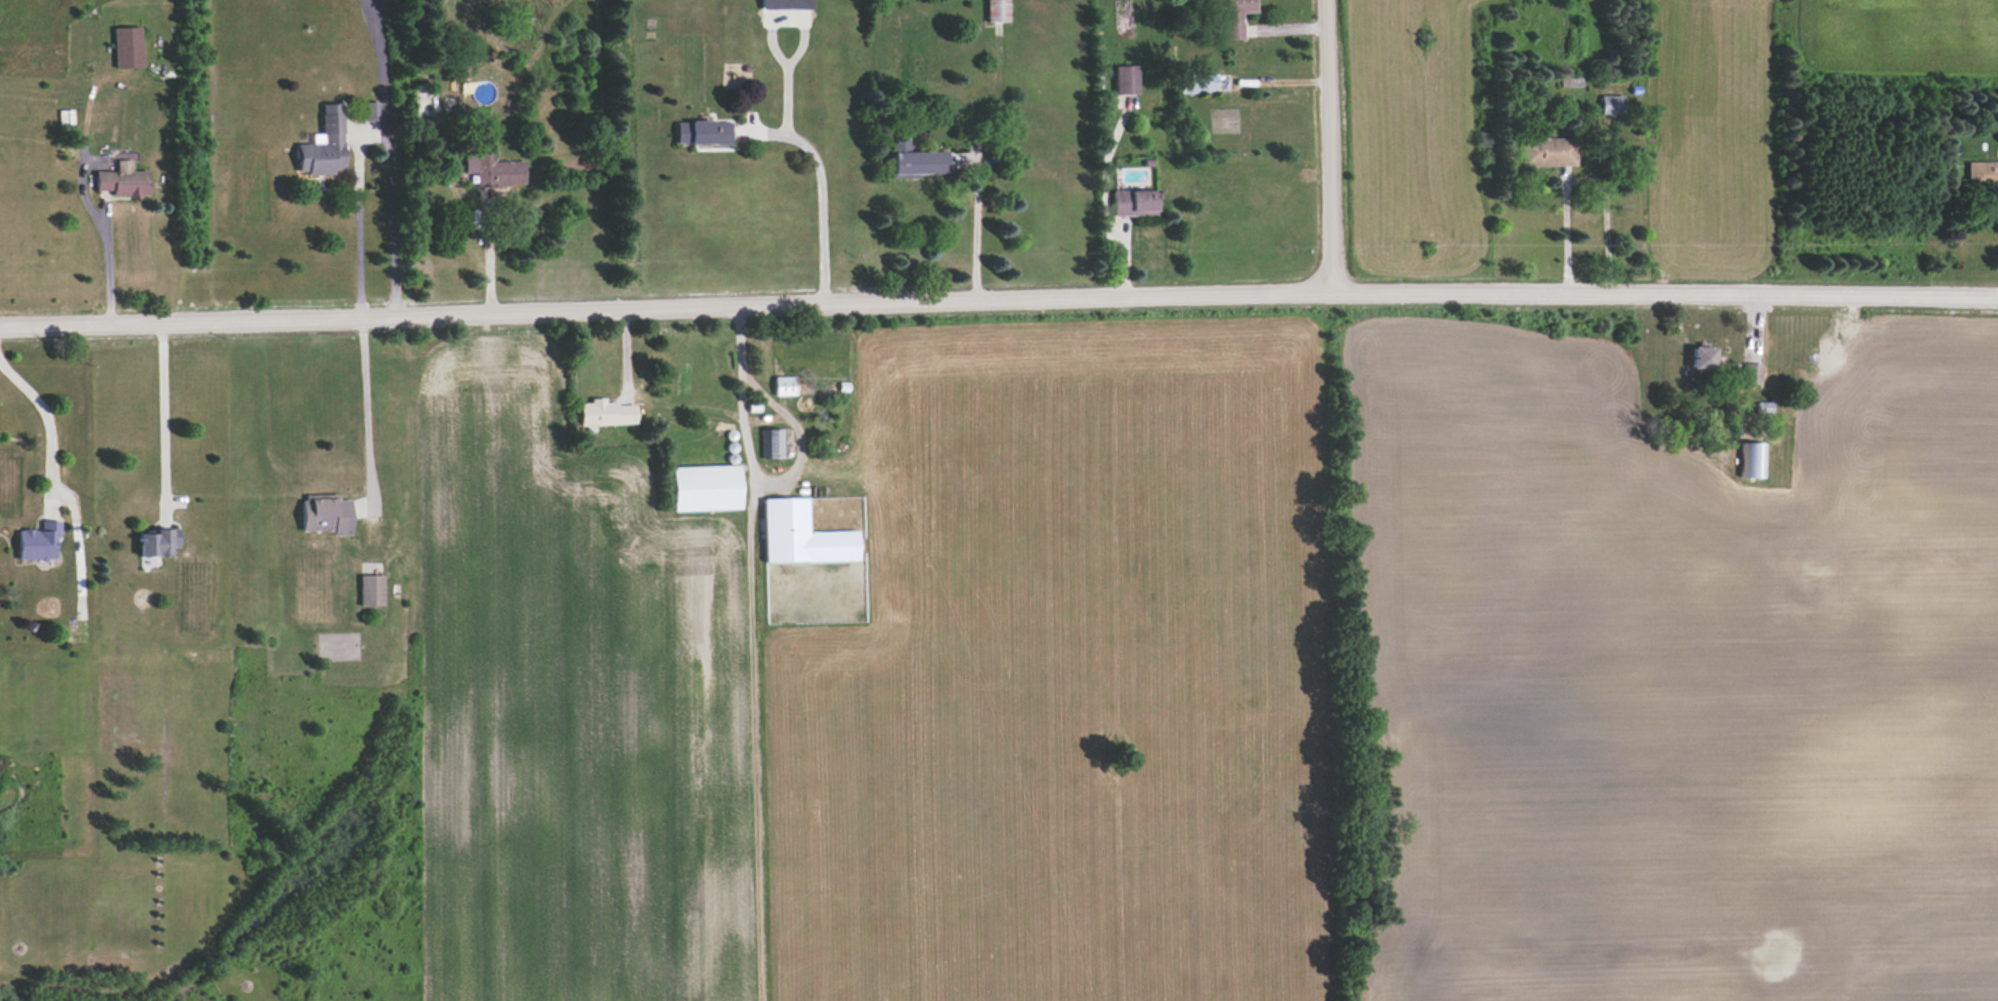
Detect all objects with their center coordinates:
building: (785, 4)
building: (996, 10)
building: (1235, 17)
building: (126, 47)
building: (1125, 80)
building: (1202, 84)
building: (422, 103)
building: (1611, 104)
building: (371, 110)
road: (373, 133)
building: (702, 133)
building: (323, 145)
road: (1326, 146)
building: (1547, 152)
building: (915, 161)
building: (492, 170)
building: (1981, 173)
building: (121, 180)
road: (821, 194)
building: (1133, 203)
road: (1103, 205)
road: (976, 229)
road: (1567, 236)
road: (489, 257)
road: (105, 264)
road: (998, 300)
building: (1701, 358)
building: (1751, 374)
building: (783, 386)
road: (366, 410)
road: (163, 412)
building: (604, 413)
road: (45, 417)
building: (771, 443)
building: (1752, 460)
road: (753, 473)
building: (704, 488)
building: (324, 514)
building: (801, 535)
building: (38, 542)
building: (156, 543)
building: (370, 590)

